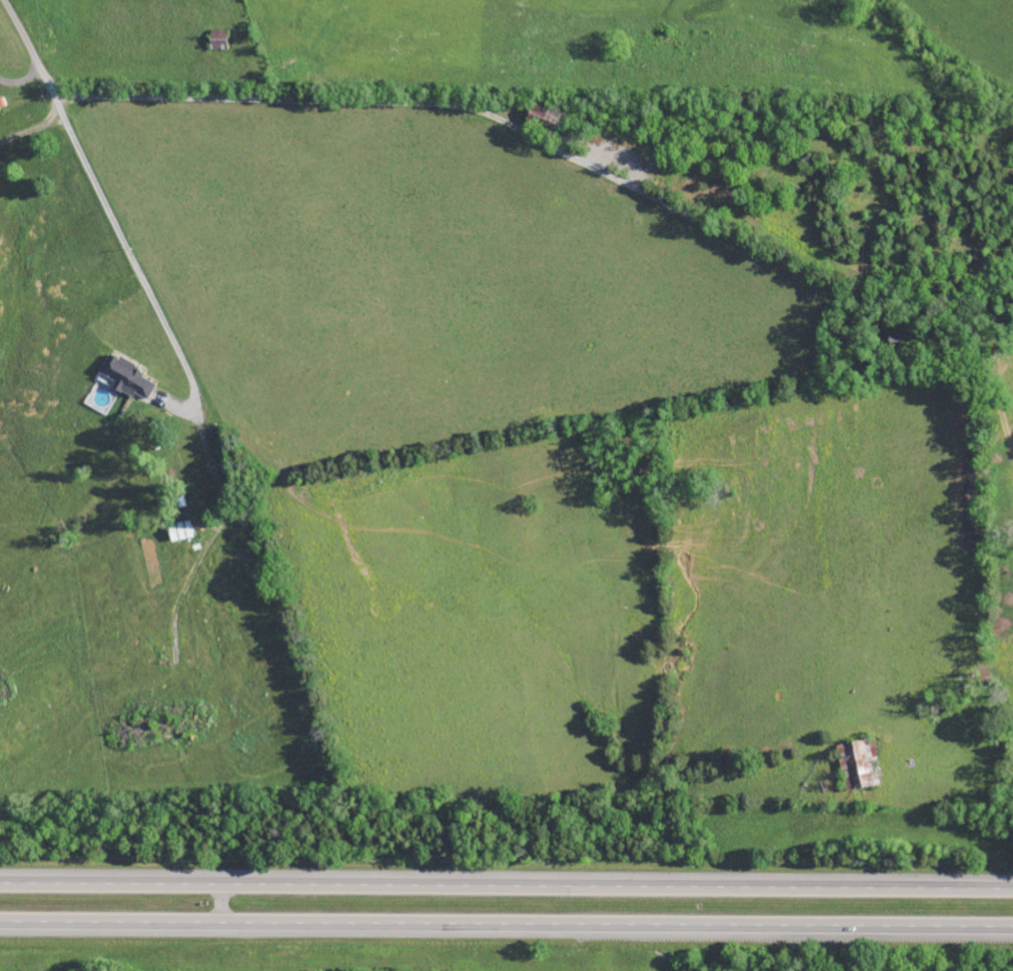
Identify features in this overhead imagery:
building: (219, 40)
road: (425, 104)
building: (128, 376)
building: (861, 760)
road: (506, 883)
road: (506, 928)

